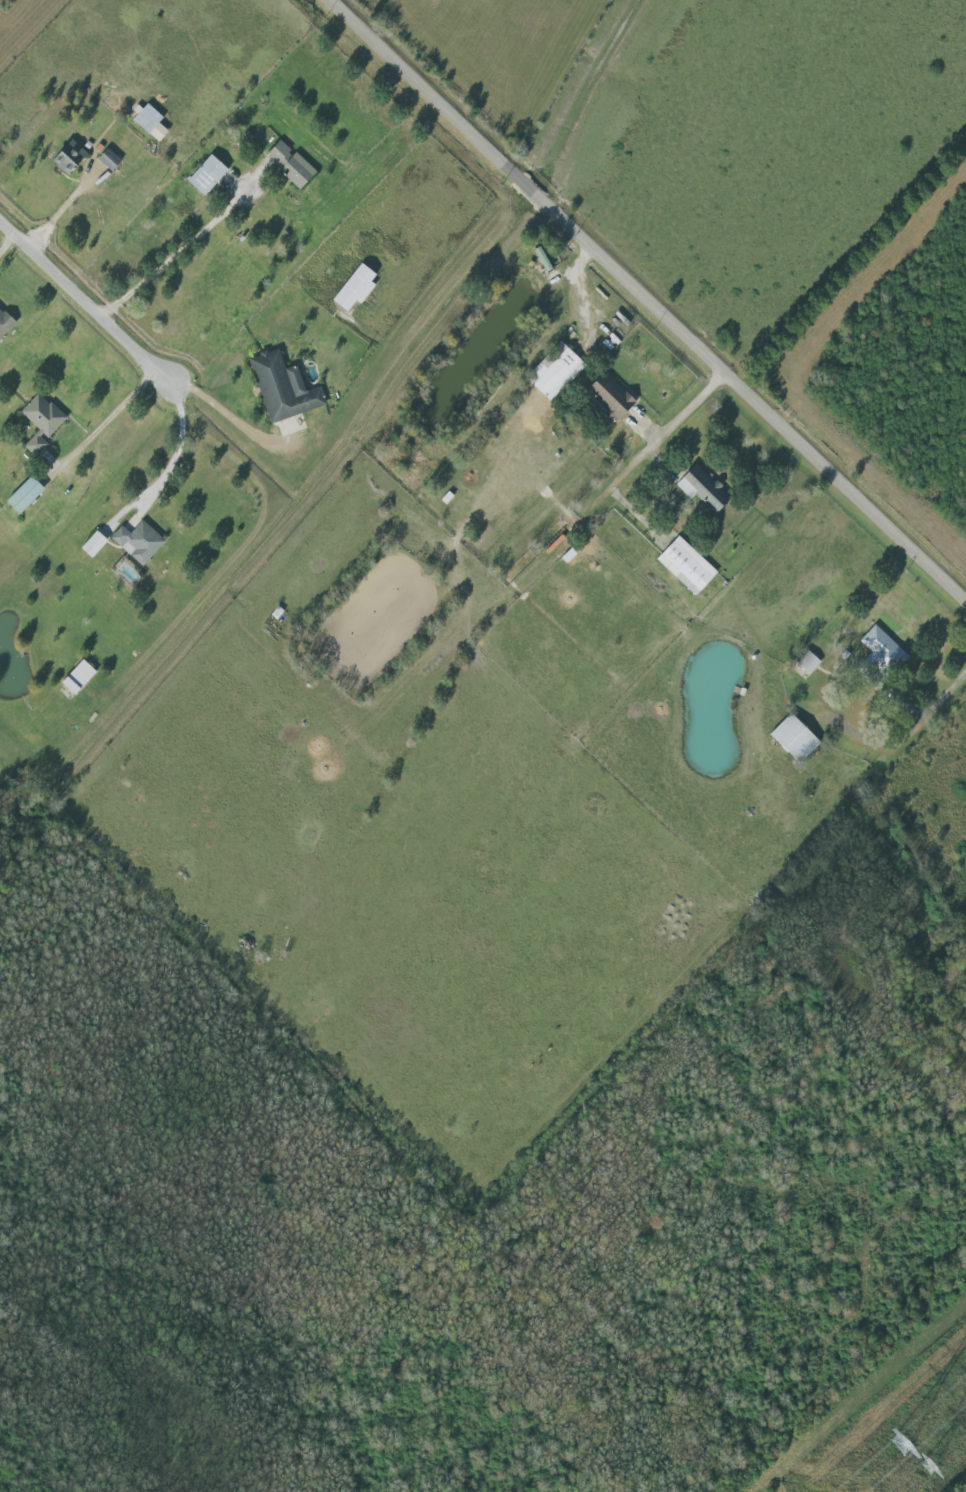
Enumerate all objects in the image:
road: (584, 92)
building: (146, 122)
building: (66, 157)
building: (106, 160)
building: (287, 164)
building: (203, 176)
road: (61, 211)
road: (6, 242)
road: (178, 249)
building: (539, 260)
building: (351, 289)
road: (653, 297)
road: (85, 301)
building: (6, 322)
building: (554, 372)
building: (283, 389)
building: (606, 398)
road: (227, 409)
road: (105, 419)
building: (43, 422)
road: (670, 432)
road: (179, 447)
building: (700, 490)
building: (28, 494)
building: (140, 541)
building: (97, 544)
building: (684, 566)
road: (185, 642)
building: (805, 662)
building: (80, 677)
road: (910, 729)
building: (790, 738)
power tower: (899, 1444)
power tower: (926, 1466)

